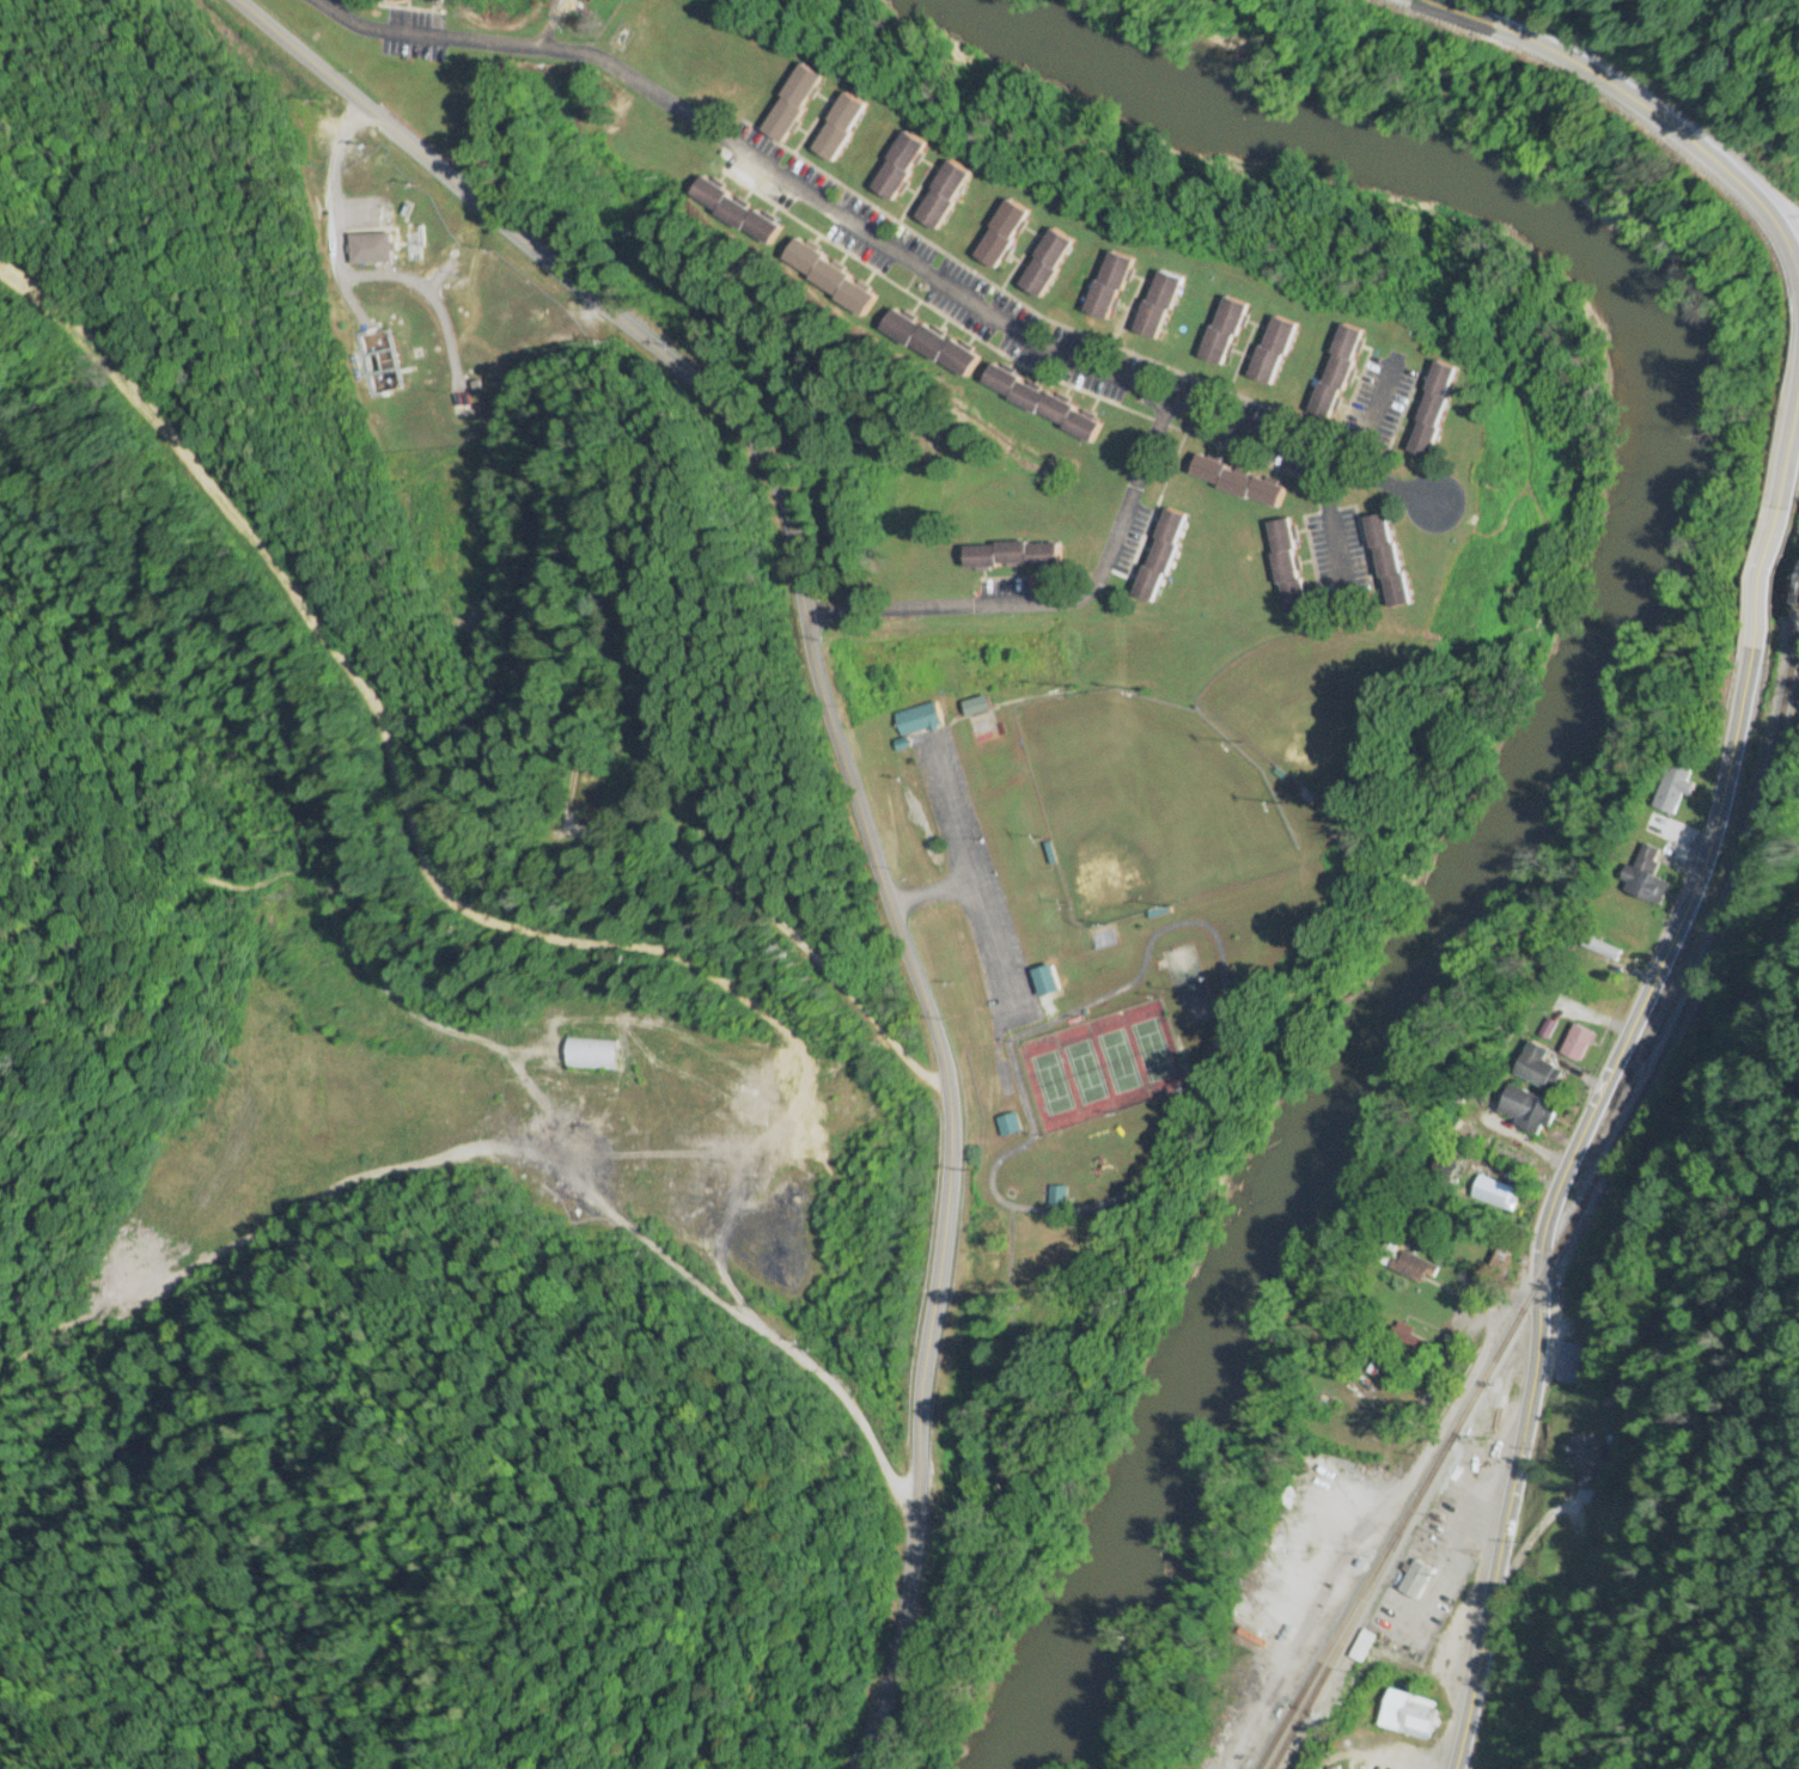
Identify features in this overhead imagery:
building: (422, 0)
building: (792, 105)
road: (1640, 108)
building: (838, 129)
building: (898, 170)
building: (943, 199)
building: (736, 213)
road: (852, 224)
building: (1002, 237)
building: (1047, 266)
road: (1798, 276)
building: (830, 280)
building: (1110, 287)
building: (1158, 306)
building: (1224, 333)
building: (935, 347)
building: (1273, 353)
building: (1337, 373)
building: (1042, 403)
building: (1432, 409)
road: (1371, 419)
road: (1787, 450)
building: (1237, 482)
road: (1438, 521)
road: (1335, 533)
building: (1012, 556)
building: (1160, 556)
building: (1388, 561)
building: (1287, 567)
road: (1764, 581)
road: (1055, 608)
river: (1584, 700)
building: (976, 708)
building: (917, 721)
road: (390, 764)
road: (847, 774)
building: (1673, 789)
park: (1148, 806)
building: (1644, 878)
building: (1045, 982)
building: (506, 1036)
building: (1578, 1044)
building: (592, 1057)
park: (1100, 1069)
building: (1538, 1069)
building: (659, 1084)
building: (727, 1096)
road: (1200, 1108)
building: (1526, 1111)
building: (1007, 1127)
building: (1493, 1195)
road: (1555, 1196)
building: (1056, 1197)
railway: (1573, 1206)
building: (1411, 1268)
building: (1409, 1341)
building: (1567, 1365)
building: (1586, 1460)
road: (998, 1493)
building: (1415, 1581)
building: (1361, 1647)
building: (1409, 1716)

